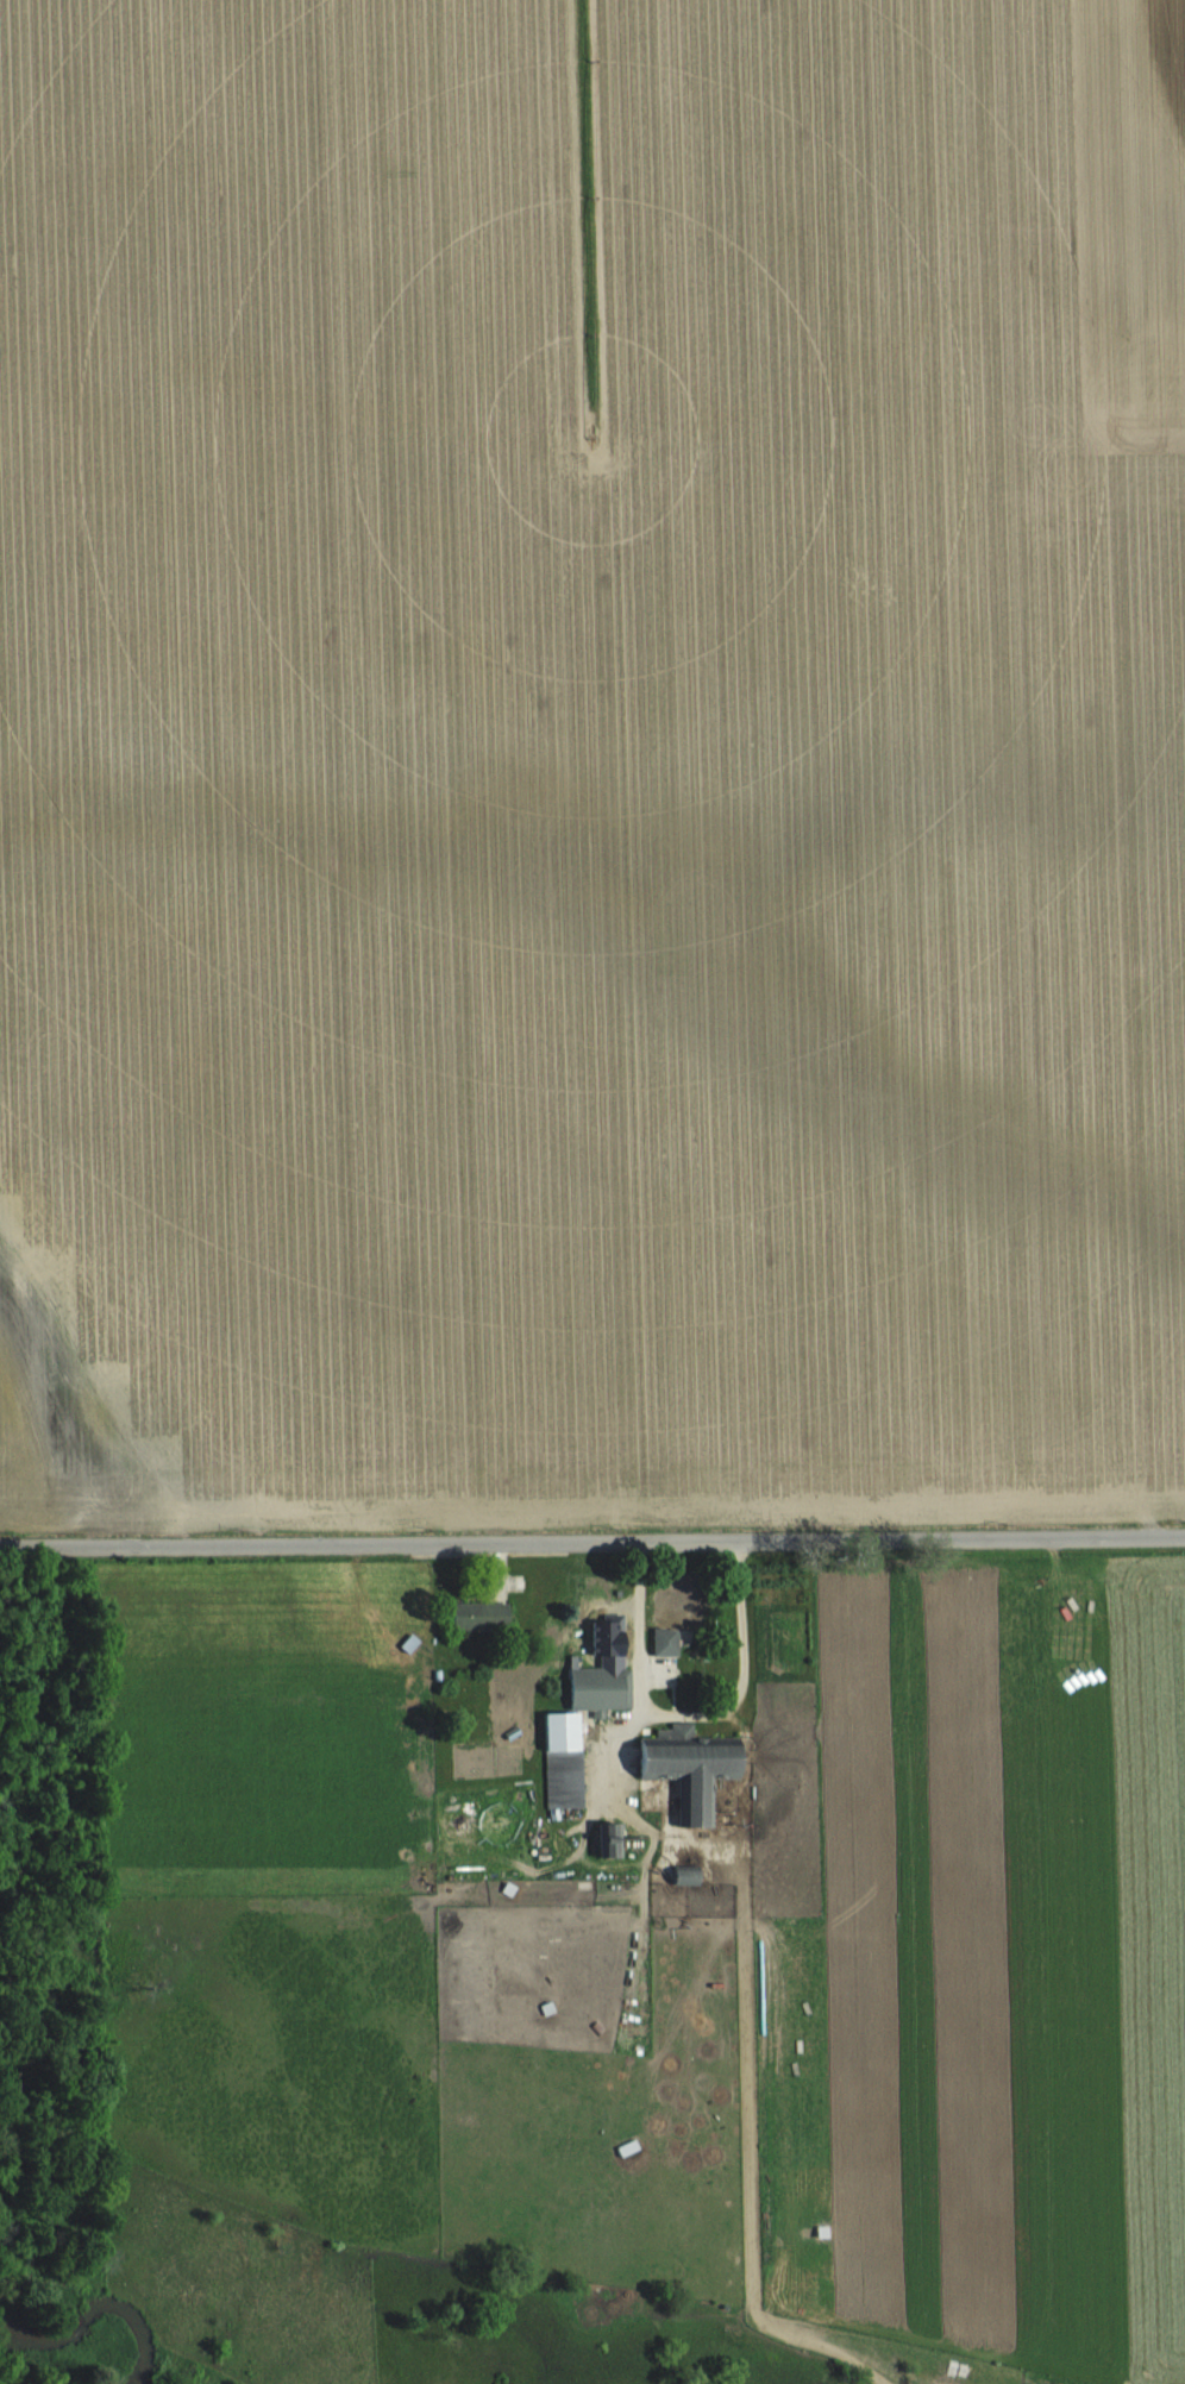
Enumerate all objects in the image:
road: (591, 1537)
building: (472, 1616)
road: (641, 1624)
building: (671, 1624)
building: (596, 1688)
road: (732, 1701)
building: (679, 1729)
building: (556, 1757)
building: (684, 1773)
building: (603, 1839)
building: (681, 1875)
building: (663, 1985)

